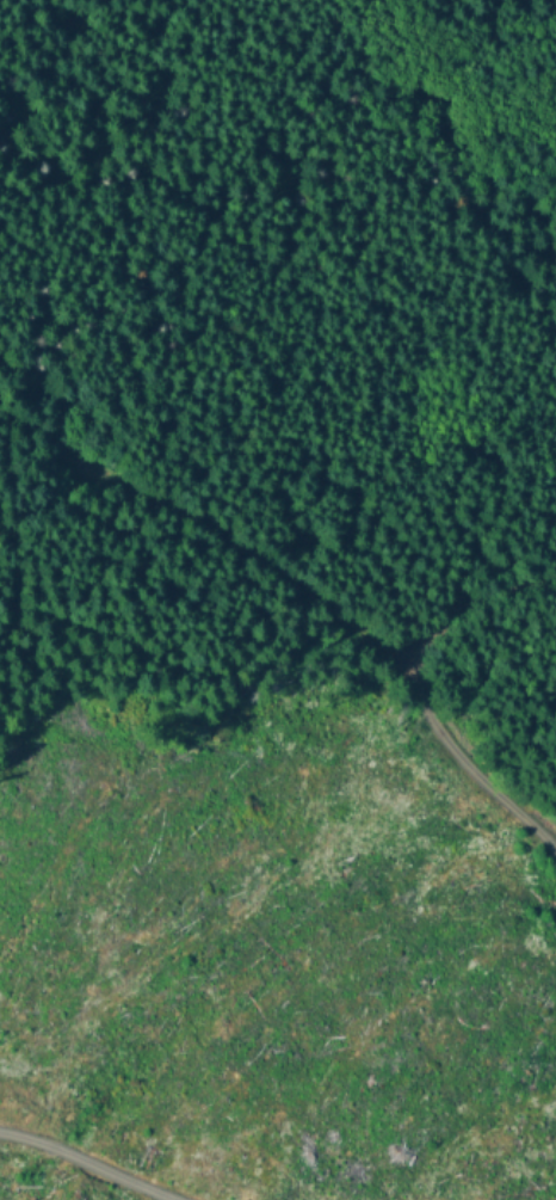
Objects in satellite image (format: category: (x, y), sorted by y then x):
road: (87, 1152)

